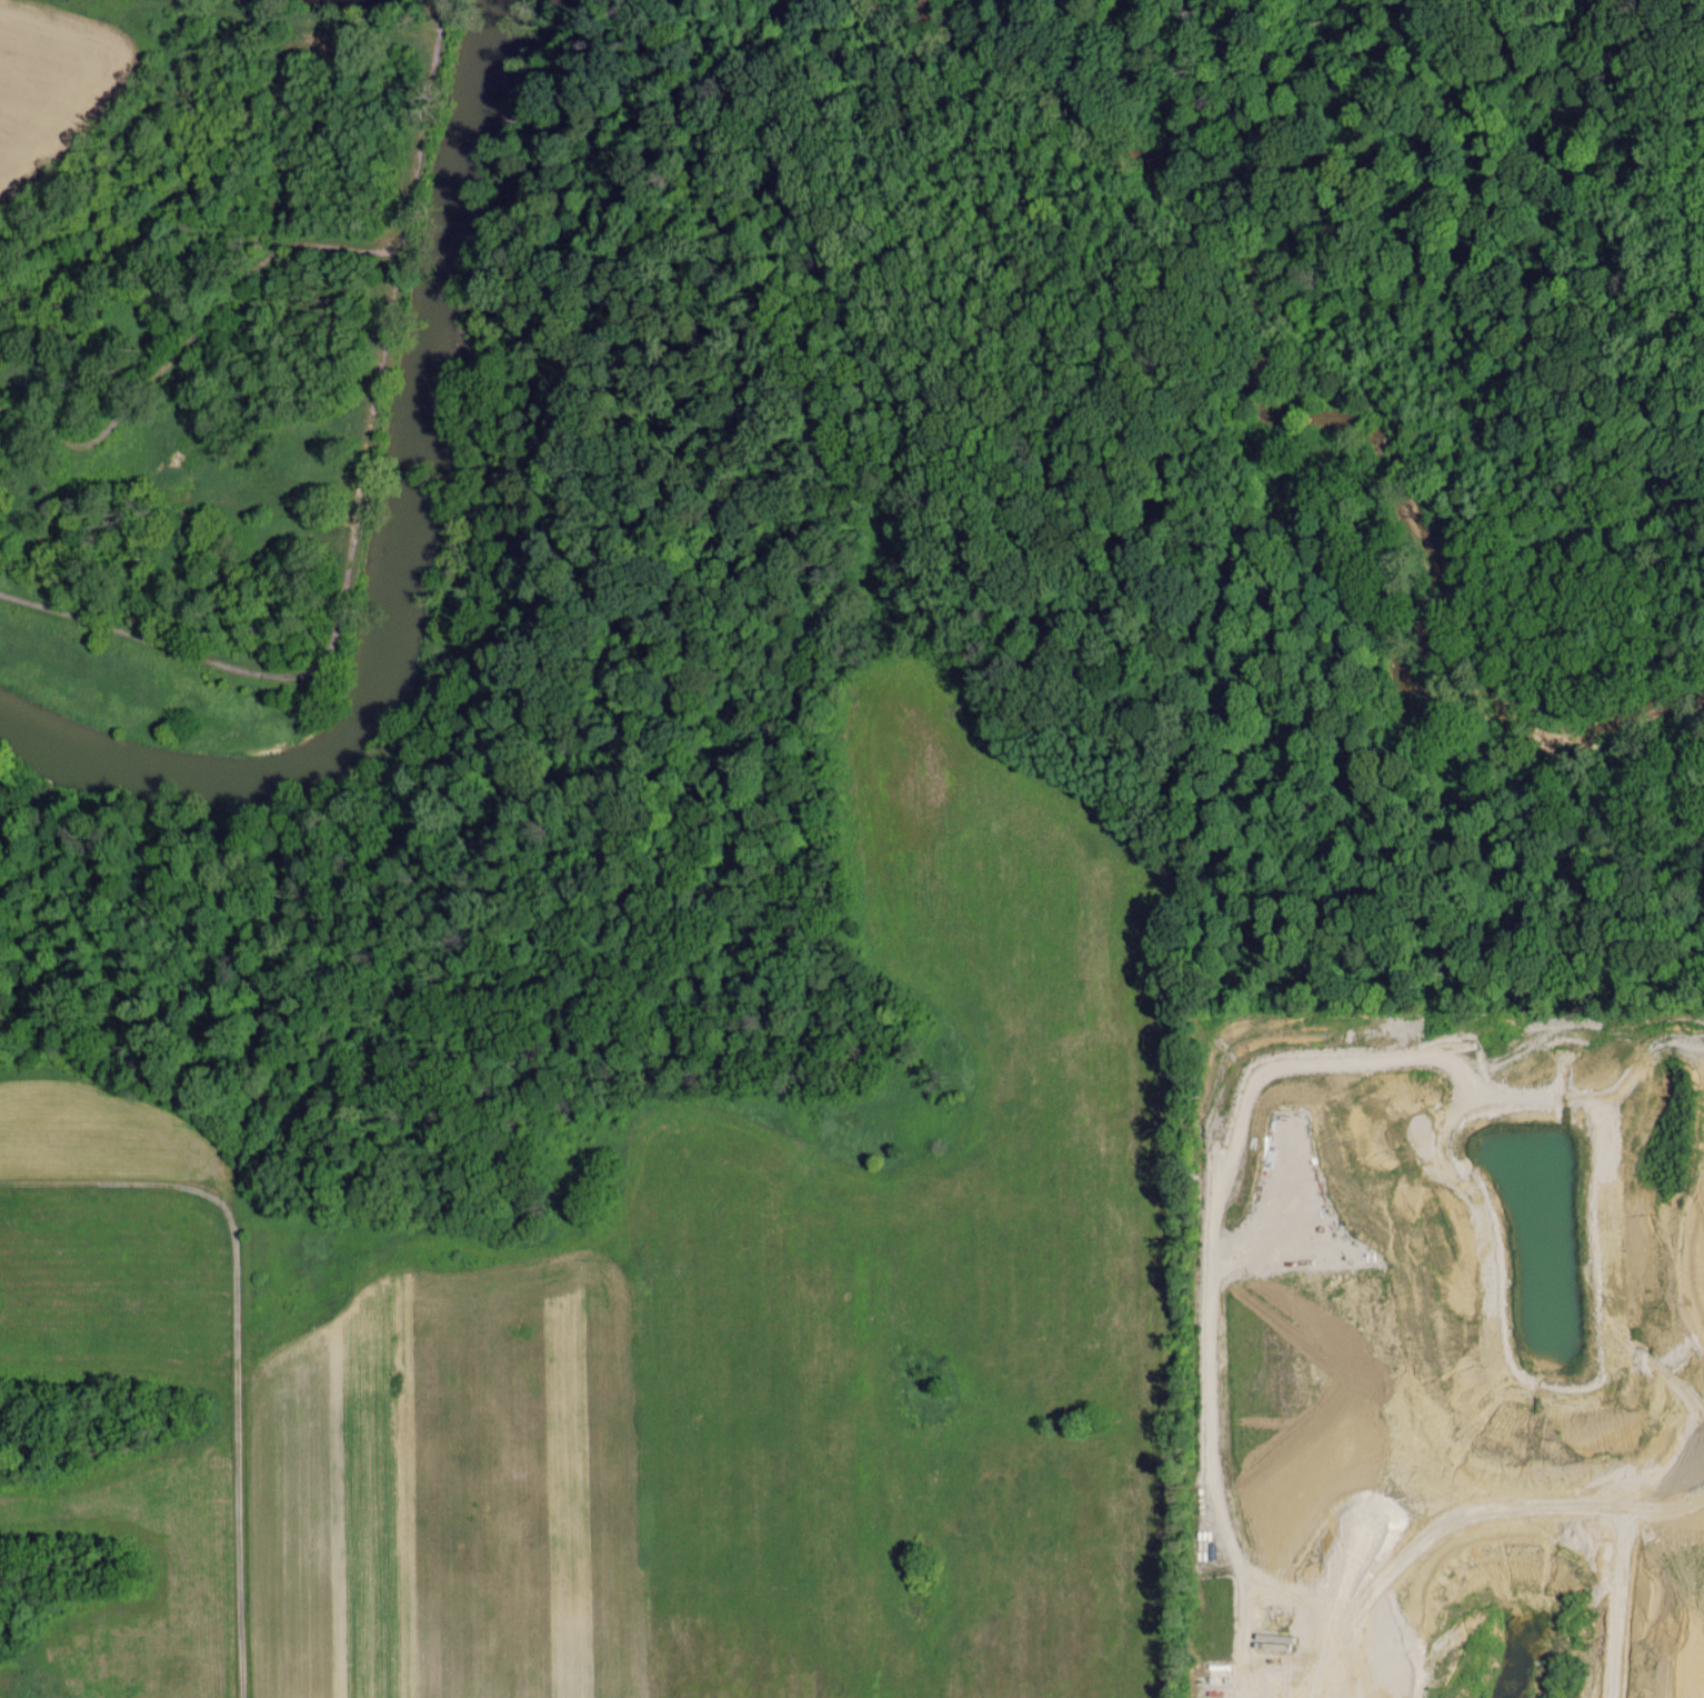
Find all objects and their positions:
road: (193, 337)
road: (359, 499)
river: (395, 549)
road: (229, 1465)

